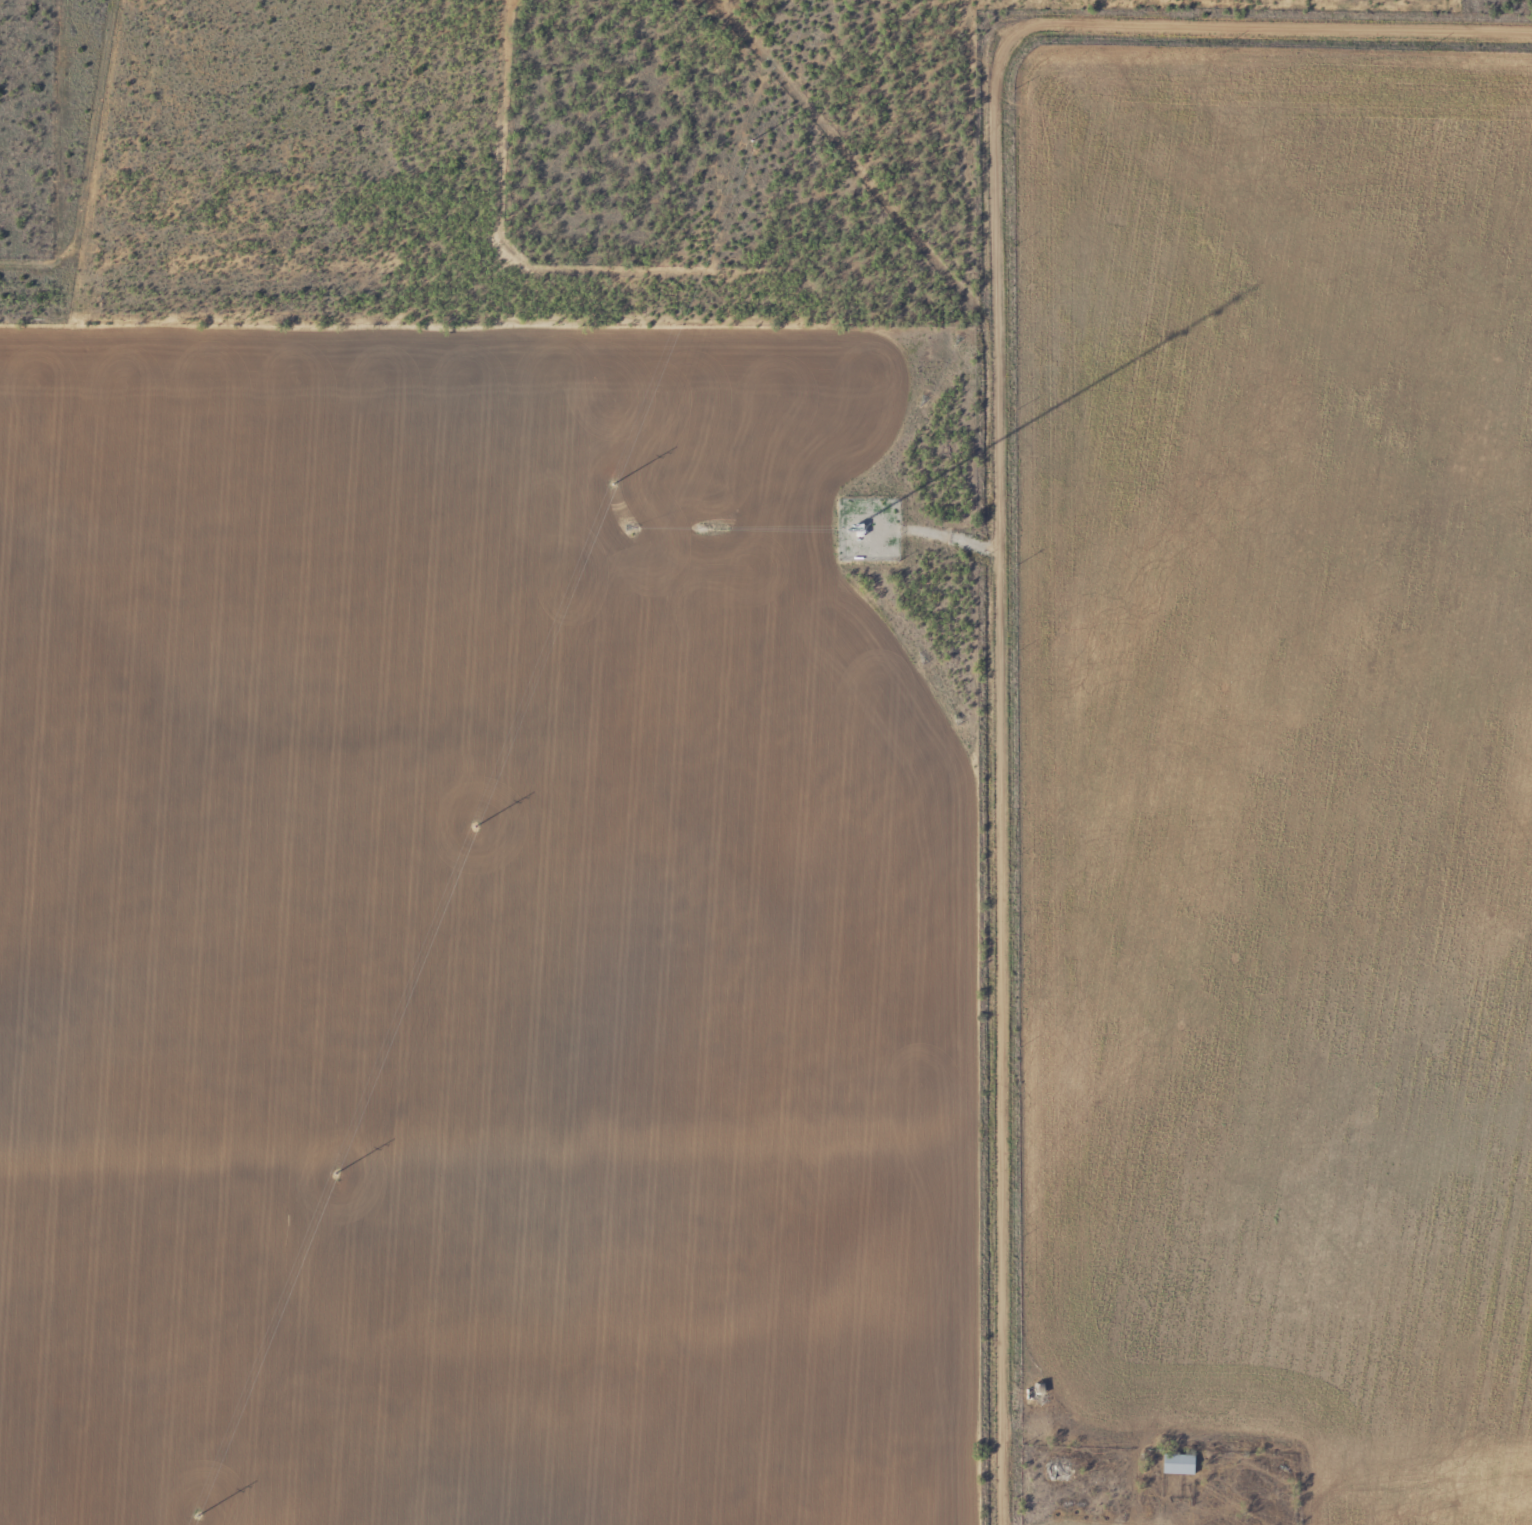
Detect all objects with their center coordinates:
road: (1143, 20)
power tower: (749, 146)
power tower: (610, 490)
road: (986, 529)
power tower: (473, 832)
power tower: (333, 1179)
building: (1174, 1464)
building: (1053, 1471)
power tower: (195, 1521)

